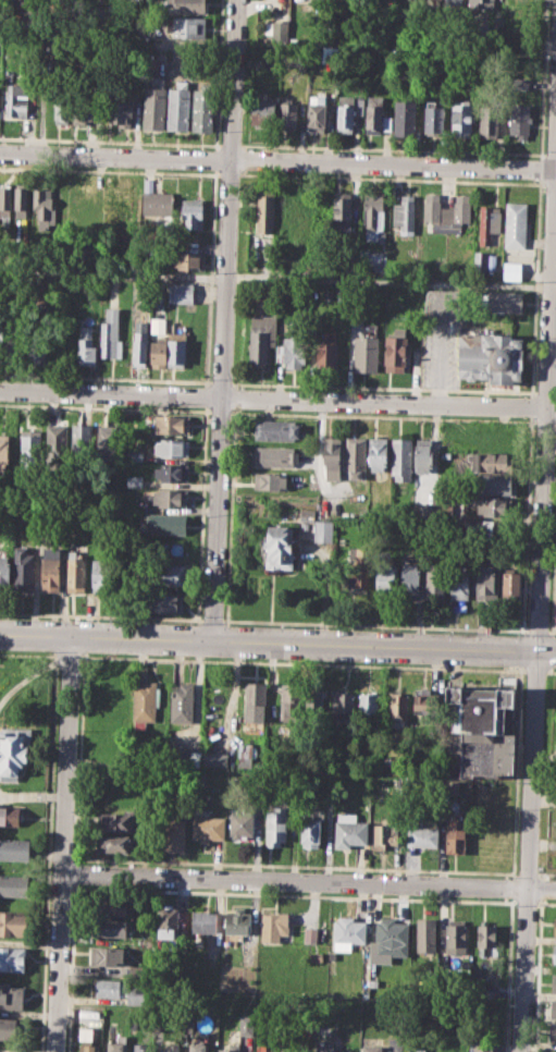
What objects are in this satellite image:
building: (453, 1)
building: (479, 4)
building: (187, 5)
building: (187, 26)
building: (279, 30)
building: (519, 83)
building: (16, 99)
building: (153, 105)
building: (177, 106)
building: (202, 106)
building: (62, 108)
building: (262, 109)
building: (83, 110)
building: (122, 110)
building: (347, 110)
building: (374, 114)
building: (287, 115)
building: (405, 115)
building: (316, 117)
building: (432, 118)
building: (461, 118)
building: (520, 119)
building: (487, 121)
road: (277, 160)
building: (5, 199)
building: (82, 199)
building: (22, 201)
building: (157, 203)
building: (44, 204)
building: (114, 205)
building: (283, 207)
building: (341, 210)
building: (193, 211)
building: (447, 212)
building: (264, 213)
building: (372, 213)
building: (404, 213)
building: (489, 222)
building: (515, 223)
building: (372, 258)
building: (188, 259)
building: (483, 260)
building: (511, 270)
road: (113, 272)
road: (391, 280)
building: (183, 291)
building: (504, 301)
road: (224, 320)
building: (157, 325)
building: (111, 334)
building: (261, 335)
building: (140, 343)
building: (86, 344)
building: (11, 345)
building: (36, 345)
building: (176, 348)
parking lot: (438, 348)
building: (326, 350)
building: (365, 350)
building: (395, 350)
building: (158, 352)
building: (292, 352)
building: (490, 354)
road: (277, 399)
building: (172, 424)
building: (275, 429)
building: (82, 439)
building: (108, 439)
building: (57, 441)
building: (172, 447)
building: (30, 448)
building: (4, 451)
building: (378, 453)
building: (423, 454)
building: (135, 455)
building: (333, 455)
building: (273, 456)
building: (356, 456)
building: (401, 458)
building: (490, 461)
building: (171, 472)
building: (135, 480)
building: (269, 480)
building: (495, 485)
building: (171, 497)
building: (497, 506)
building: (428, 510)
building: (306, 514)
building: (165, 523)
road: (548, 526)
building: (323, 530)
building: (480, 530)
building: (279, 547)
building: (23, 568)
building: (358, 568)
building: (4, 571)
building: (49, 572)
building: (76, 572)
building: (164, 574)
building: (100, 575)
building: (385, 577)
building: (459, 580)
building: (409, 582)
building: (434, 582)
building: (485, 583)
building: (510, 587)
building: (165, 601)
road: (539, 611)
road: (101, 616)
road: (212, 620)
building: (555, 622)
road: (375, 625)
road: (538, 631)
road: (552, 631)
road: (277, 645)
road: (27, 653)
road: (66, 657)
road: (299, 662)
road: (534, 670)
road: (551, 671)
road: (30, 675)
building: (254, 701)
building: (289, 701)
building: (181, 702)
building: (367, 702)
building: (143, 704)
building: (425, 704)
building: (314, 706)
building: (342, 707)
building: (398, 708)
building: (484, 730)
building: (14, 749)
building: (246, 750)
building: (452, 751)
building: (214, 759)
road: (33, 794)
building: (9, 816)
building: (115, 821)
building: (239, 822)
building: (276, 825)
building: (208, 828)
building: (348, 829)
building: (310, 832)
building: (455, 834)
building: (171, 835)
building: (381, 835)
building: (422, 836)
building: (114, 843)
road: (64, 845)
building: (15, 848)
road: (310, 883)
building: (13, 885)
building: (113, 905)
building: (166, 921)
building: (203, 921)
building: (237, 921)
building: (13, 922)
building: (273, 926)
building: (110, 927)
building: (555, 927)
building: (348, 930)
building: (310, 934)
building: (425, 934)
building: (455, 935)
building: (391, 937)
building: (486, 939)
building: (106, 954)
building: (554, 954)
building: (316, 956)
building: (11, 958)
building: (554, 981)
building: (120, 990)
building: (10, 996)
building: (553, 1008)
building: (186, 1020)
building: (246, 1024)
building: (9, 1028)
building: (553, 1030)
building: (86, 1040)
building: (118, 1044)
building: (482, 1045)
building: (139, 1047)
building: (197, 1047)
building: (170, 1048)
building: (230, 1048)
building: (325, 1048)
building: (370, 1048)
building: (261, 1049)
building: (418, 1050)

